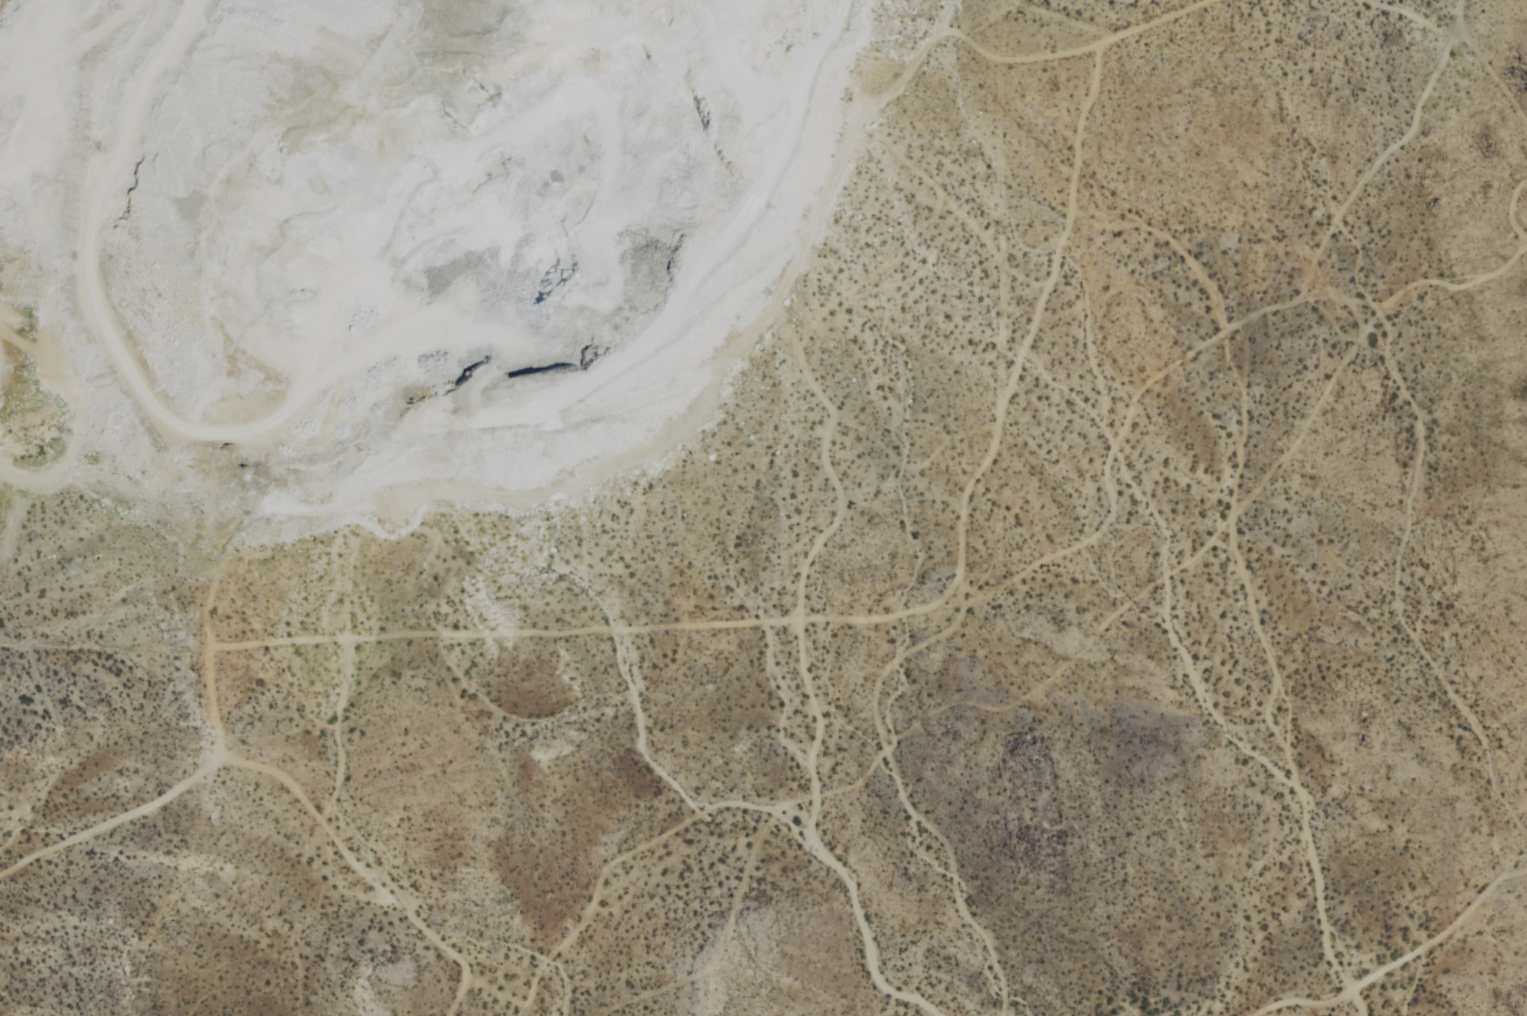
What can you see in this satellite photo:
quarry: (360, 257)

